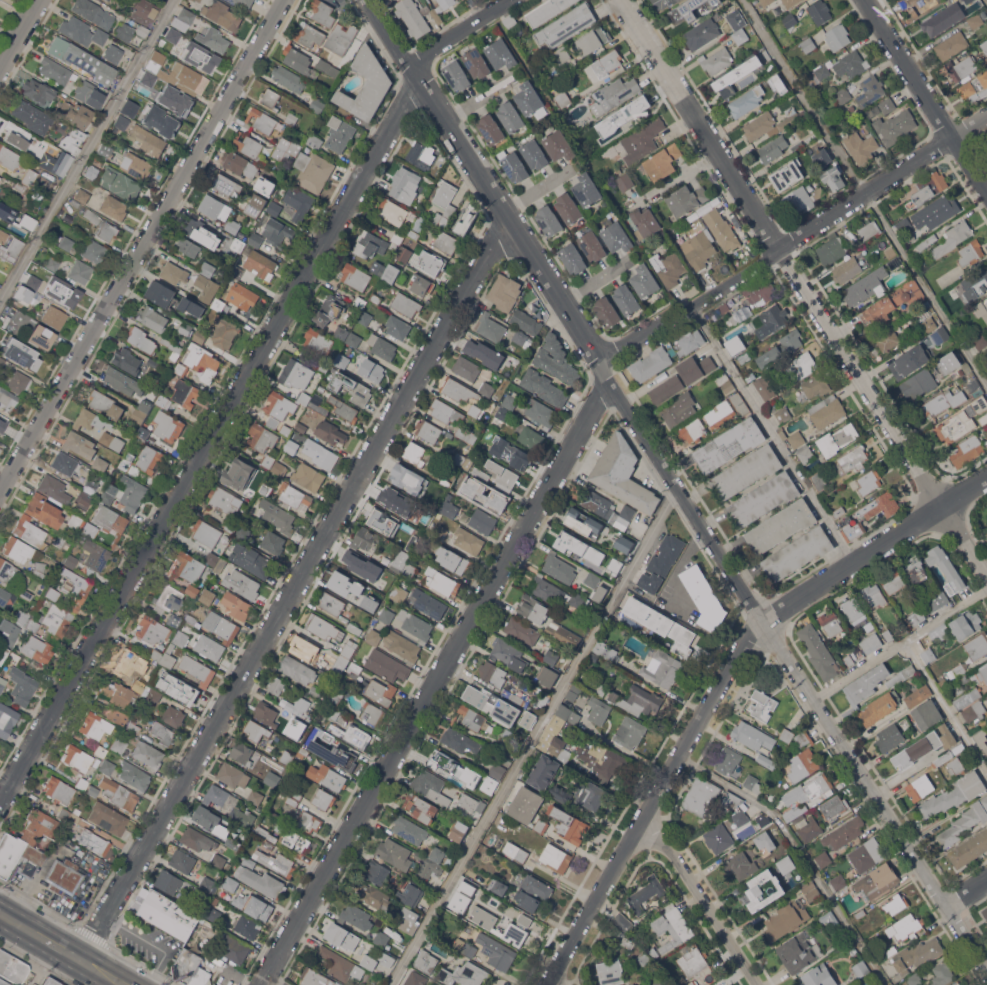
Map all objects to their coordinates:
building: (104, 0)
building: (159, 0)
building: (198, 0)
building: (962, 0)
road: (986, 0)
building: (967, 1)
building: (242, 2)
building: (766, 2)
building: (446, 3)
building: (662, 3)
building: (790, 3)
building: (919, 6)
building: (689, 9)
building: (142, 11)
building: (547, 11)
building: (819, 11)
building: (93, 12)
building: (323, 12)
building: (221, 14)
building: (185, 15)
building: (436, 15)
building: (412, 17)
building: (736, 19)
building: (943, 19)
building: (789, 20)
building: (975, 20)
building: (511, 22)
building: (566, 25)
building: (142, 30)
building: (124, 31)
building: (82, 32)
road: (19, 33)
road: (461, 33)
building: (701, 33)
building: (171, 35)
building: (309, 35)
building: (740, 35)
building: (341, 37)
building: (837, 37)
building: (214, 39)
building: (593, 40)
building: (808, 44)
building: (168, 45)
building: (951, 45)
building: (984, 45)
building: (113, 53)
building: (501, 54)
building: (561, 54)
building: (198, 58)
building: (81, 60)
building: (299, 60)
building: (716, 61)
building: (477, 62)
building: (156, 64)
building: (851, 64)
building: (603, 65)
building: (327, 67)
building: (961, 67)
building: (54, 70)
building: (457, 75)
building: (817, 75)
building: (291, 78)
building: (754, 78)
building: (147, 79)
building: (187, 79)
building: (726, 82)
building: (367, 84)
building: (778, 84)
building: (165, 85)
building: (974, 87)
building: (37, 90)
building: (136, 90)
building: (870, 90)
building: (88, 94)
building: (613, 94)
road: (926, 94)
building: (842, 95)
building: (270, 97)
road: (484, 97)
building: (562, 98)
building: (154, 99)
building: (180, 100)
building: (530, 100)
building: (746, 101)
building: (133, 103)
building: (317, 104)
building: (887, 105)
building: (636, 108)
building: (74, 114)
building: (32, 116)
building: (510, 116)
building: (140, 118)
building: (290, 118)
building: (261, 120)
building: (788, 121)
building: (166, 122)
building: (759, 125)
building: (895, 127)
building: (491, 129)
building: (339, 133)
building: (614, 133)
building: (15, 135)
building: (141, 135)
building: (71, 140)
building: (640, 140)
building: (314, 141)
building: (289, 145)
building: (558, 145)
building: (861, 146)
building: (249, 147)
building: (798, 147)
building: (772, 148)
building: (421, 150)
road: (87, 151)
building: (105, 151)
building: (279, 153)
building: (534, 153)
building: (9, 157)
building: (823, 157)
building: (55, 162)
building: (661, 162)
building: (136, 165)
building: (514, 166)
building: (618, 170)
building: (248, 171)
building: (313, 171)
building: (92, 172)
building: (787, 175)
building: (29, 177)
building: (833, 177)
building: (0, 178)
building: (625, 182)
building: (120, 183)
building: (226, 184)
building: (405, 184)
building: (19, 186)
building: (928, 188)
building: (587, 189)
road: (866, 189)
road: (540, 192)
building: (82, 196)
building: (801, 198)
building: (687, 199)
building: (298, 202)
building: (444, 202)
building: (75, 203)
building: (255, 205)
building: (114, 207)
building: (214, 207)
building: (569, 207)
building: (275, 208)
building: (936, 211)
building: (396, 212)
building: (6, 213)
building: (466, 220)
building: (549, 220)
building: (645, 222)
building: (419, 223)
building: (27, 225)
building: (102, 225)
building: (232, 226)
building: (719, 226)
building: (905, 226)
building: (869, 229)
building: (277, 232)
building: (202, 233)
building: (413, 234)
building: (3, 235)
building: (883, 235)
building: (616, 236)
road: (792, 236)
building: (397, 237)
building: (952, 238)
building: (255, 239)
building: (444, 241)
building: (238, 242)
building: (926, 242)
building: (66, 243)
road: (142, 243)
building: (370, 244)
building: (592, 245)
building: (188, 246)
building: (832, 248)
building: (11, 249)
building: (698, 249)
building: (93, 251)
building: (890, 252)
building: (403, 253)
building: (970, 253)
building: (572, 258)
building: (894, 262)
building: (433, 263)
building: (53, 264)
building: (260, 264)
building: (668, 267)
building: (377, 268)
building: (207, 269)
building: (846, 269)
building: (79, 271)
building: (174, 272)
building: (390, 274)
building: (356, 276)
road: (604, 279)
building: (30, 280)
building: (644, 281)
building: (422, 285)
building: (975, 285)
building: (207, 287)
building: (867, 287)
building: (60, 288)
road: (804, 288)
building: (759, 292)
building: (160, 293)
building: (505, 293)
building: (26, 295)
building: (243, 296)
building: (375, 298)
building: (626, 299)
building: (360, 301)
building: (218, 304)
building: (406, 304)
building: (892, 304)
building: (192, 305)
building: (981, 309)
building: (607, 311)
building: (322, 314)
building: (739, 315)
building: (54, 317)
building: (364, 317)
building: (152, 318)
building: (21, 319)
building: (771, 320)
building: (526, 321)
building: (928, 321)
building: (398, 326)
building: (186, 328)
building: (491, 328)
building: (224, 332)
building: (341, 332)
building: (940, 335)
building: (199, 336)
building: (39, 338)
building: (521, 338)
building: (140, 339)
building: (353, 339)
building: (887, 339)
building: (692, 340)
building: (980, 340)
building: (318, 341)
building: (382, 346)
building: (737, 346)
building: (782, 347)
building: (172, 348)
building: (481, 348)
building: (5, 350)
building: (31, 358)
building: (744, 358)
building: (126, 360)
building: (341, 360)
building: (557, 360)
building: (202, 361)
building: (2, 362)
building: (152, 362)
building: (910, 362)
building: (950, 362)
building: (650, 364)
building: (322, 366)
building: (801, 366)
building: (967, 367)
building: (467, 368)
building: (501, 368)
building: (695, 368)
building: (181, 369)
building: (372, 370)
building: (296, 374)
building: (121, 380)
building: (18, 382)
building: (919, 383)
building: (816, 385)
building: (728, 386)
building: (765, 386)
building: (351, 387)
building: (544, 387)
building: (487, 388)
building: (457, 389)
building: (666, 389)
building: (975, 391)
building: (186, 393)
building: (303, 397)
building: (7, 398)
building: (161, 400)
building: (510, 401)
building: (943, 401)
building: (106, 404)
building: (740, 404)
building: (980, 404)
building: (279, 405)
building: (318, 405)
building: (146, 406)
building: (344, 408)
building: (679, 409)
building: (474, 410)
building: (444, 411)
building: (826, 411)
building: (540, 412)
building: (502, 413)
building: (719, 413)
building: (784, 414)
building: (138, 415)
building: (91, 420)
building: (1, 424)
building: (168, 426)
building: (301, 426)
building: (955, 426)
building: (285, 430)
building: (428, 430)
building: (692, 431)
building: (143, 432)
building: (330, 432)
road: (772, 432)
building: (986, 432)
building: (491, 434)
building: (465, 435)
building: (986, 436)
building: (261, 437)
building: (531, 437)
building: (841, 437)
building: (796, 439)
building: (112, 440)
building: (76, 442)
road: (211, 442)
building: (729, 444)
building: (292, 446)
building: (967, 450)
building: (319, 452)
building: (416, 453)
building: (804, 453)
building: (515, 456)
building: (853, 458)
building: (460, 459)
building: (267, 460)
building: (143, 461)
building: (64, 463)
building: (101, 464)
building: (468, 464)
building: (279, 468)
building: (746, 471)
building: (240, 472)
building: (403, 474)
building: (481, 474)
building: (623, 474)
building: (308, 476)
building: (503, 476)
building: (818, 481)
building: (867, 481)
building: (445, 482)
road: (673, 485)
building: (92, 487)
building: (460, 487)
building: (54, 488)
building: (265, 489)
building: (125, 492)
building: (394, 496)
building: (437, 496)
building: (449, 496)
building: (293, 497)
building: (84, 498)
building: (492, 499)
building: (764, 499)
building: (225, 500)
building: (598, 502)
building: (880, 505)
building: (449, 509)
building: (44, 511)
building: (838, 512)
building: (278, 517)
building: (625, 517)
building: (414, 518)
building: (383, 519)
building: (111, 521)
building: (482, 521)
building: (585, 522)
building: (82, 525)
building: (781, 526)
building: (231, 527)
building: (851, 528)
building: (439, 531)
building: (30, 532)
building: (206, 532)
building: (243, 532)
building: (366, 539)
building: (59, 540)
building: (468, 541)
building: (274, 542)
building: (407, 543)
building: (623, 544)
building: (573, 546)
building: (612, 546)
building: (17, 549)
building: (425, 552)
building: (798, 553)
building: (94, 555)
building: (212, 558)
building: (252, 560)
building: (355, 560)
building: (71, 561)
building: (400, 561)
building: (457, 561)
building: (661, 563)
building: (220, 564)
building: (189, 567)
building: (558, 567)
building: (40, 569)
building: (605, 569)
building: (409, 570)
building: (916, 570)
building: (943, 570)
building: (9, 571)
building: (592, 579)
building: (441, 581)
building: (892, 581)
building: (345, 582)
building: (379, 582)
building: (242, 583)
building: (75, 587)
road: (295, 588)
building: (192, 590)
building: (399, 593)
building: (555, 593)
building: (599, 593)
building: (26, 594)
building: (52, 594)
building: (874, 595)
building: (3, 596)
building: (207, 597)
building: (705, 598)
building: (936, 598)
building: (165, 599)
building: (331, 603)
building: (370, 603)
building: (429, 604)
building: (240, 608)
building: (534, 608)
building: (852, 608)
building: (623, 611)
building: (386, 615)
building: (916, 616)
building: (28, 618)
building: (191, 619)
building: (174, 620)
building: (55, 623)
building: (831, 623)
building: (965, 624)
building: (415, 625)
building: (221, 626)
building: (322, 626)
building: (354, 628)
building: (151, 629)
building: (521, 630)
building: (938, 632)
building: (563, 633)
building: (674, 633)
building: (10, 634)
building: (888, 635)
building: (374, 636)
building: (184, 640)
building: (871, 642)
building: (402, 646)
building: (977, 646)
building: (348, 648)
building: (306, 649)
road: (900, 649)
building: (208, 650)
building: (604, 650)
building: (36, 651)
building: (817, 651)
building: (508, 654)
building: (164, 655)
building: (928, 655)
building: (551, 656)
building: (592, 656)
building: (13, 657)
building: (849, 660)
building: (0, 661)
building: (132, 661)
building: (386, 665)
building: (339, 666)
building: (356, 667)
building: (663, 668)
building: (197, 669)
building: (297, 669)
building: (492, 672)
building: (971, 673)
building: (548, 676)
building: (901, 676)
road: (435, 683)
building: (1, 685)
building: (137, 685)
building: (277, 685)
building: (865, 685)
building: (21, 686)
road: (721, 687)
building: (182, 690)
building: (379, 690)
building: (602, 690)
building: (574, 691)
building: (320, 693)
building: (151, 694)
building: (337, 694)
building: (118, 695)
building: (918, 696)
building: (986, 696)
building: (967, 697)
building: (515, 698)
building: (543, 699)
building: (638, 700)
building: (490, 704)
building: (763, 704)
building: (880, 707)
road: (947, 707)
building: (294, 708)
building: (598, 709)
building: (372, 713)
building: (974, 713)
building: (568, 714)
building: (927, 714)
building: (173, 715)
building: (6, 716)
building: (116, 716)
building: (339, 716)
building: (278, 718)
building: (472, 718)
building: (528, 719)
building: (95, 725)
building: (132, 727)
building: (256, 731)
building: (629, 732)
building: (163, 733)
building: (509, 733)
building: (352, 734)
building: (325, 735)
building: (752, 735)
building: (786, 735)
road: (533, 737)
building: (889, 737)
building: (803, 738)
building: (980, 739)
building: (459, 740)
building: (554, 741)
building: (119, 745)
building: (925, 746)
building: (100, 750)
building: (242, 752)
building: (303, 752)
building: (335, 754)
building: (148, 755)
building: (288, 757)
building: (942, 758)
building: (77, 759)
building: (599, 759)
building: (728, 760)
building: (766, 761)
building: (447, 762)
building: (802, 764)
building: (955, 766)
building: (107, 767)
building: (498, 768)
building: (544, 771)
road: (904, 772)
building: (233, 774)
building: (135, 776)
building: (328, 776)
building: (272, 779)
building: (481, 780)
building: (753, 783)
building: (83, 784)
building: (464, 785)
building: (430, 787)
building: (920, 787)
building: (59, 789)
building: (809, 789)
building: (92, 790)
building: (561, 793)
building: (119, 794)
building: (296, 794)
building: (954, 794)
building: (590, 795)
building: (256, 797)
building: (323, 798)
building: (704, 799)
building: (730, 799)
building: (292, 801)
building: (471, 802)
building: (229, 804)
building: (525, 804)
building: (833, 806)
building: (421, 808)
building: (78, 811)
building: (64, 814)
building: (795, 814)
building: (75, 818)
building: (108, 818)
building: (737, 819)
building: (211, 820)
building: (761, 820)
building: (308, 821)
building: (964, 822)
building: (541, 824)
building: (569, 824)
building: (40, 826)
building: (409, 829)
building: (810, 829)
building: (459, 830)
building: (844, 832)
building: (266, 833)
building: (719, 837)
building: (198, 839)
building: (93, 841)
building: (295, 841)
building: (765, 842)
building: (233, 843)
building: (268, 844)
building: (969, 850)
building: (515, 851)
building: (393, 852)
building: (10, 853)
building: (436, 854)
road: (800, 854)
building: (867, 854)
building: (94, 857)
building: (555, 858)
building: (822, 858)
building: (29, 860)
building: (218, 860)
building: (183, 861)
building: (248, 861)
building: (277, 862)
building: (428, 865)
building: (741, 865)
building: (784, 865)
building: (376, 871)
building: (63, 876)
building: (262, 881)
building: (878, 881)
building: (839, 882)
building: (207, 883)
building: (806, 883)
building: (231, 884)
building: (498, 886)
building: (182, 887)
road: (966, 891)
building: (533, 892)
building: (646, 893)
building: (370, 894)
building: (411, 894)
building: (813, 894)
building: (758, 895)
road: (705, 902)
building: (458, 903)
building: (896, 903)
building: (254, 905)
building: (985, 911)
building: (169, 914)
building: (860, 914)
building: (215, 915)
building: (355, 916)
building: (829, 918)
building: (409, 920)
building: (484, 920)
building: (622, 920)
building: (785, 920)
building: (204, 923)
road: (22, 925)
building: (518, 925)
building: (248, 926)
building: (906, 926)
building: (673, 927)
building: (342, 936)
building: (843, 936)
building: (381, 938)
road: (154, 942)
building: (459, 943)
building: (628, 943)
building: (234, 948)
road: (61, 949)
building: (469, 949)
building: (497, 951)
building: (890, 951)
building: (797, 953)
building: (652, 954)
building: (917, 954)
building: (387, 958)
building: (692, 959)
building: (190, 961)
building: (368, 961)
building: (425, 961)
building: (644, 962)
building: (340, 964)
road: (43, 965)
building: (12, 968)
building: (861, 968)
building: (611, 971)
road: (101, 972)
building: (943, 973)
building: (465, 974)
building: (819, 976)
building: (201, 977)
building: (316, 978)
building: (415, 979)
building: (914, 979)
road: (272, 980)
building: (47, 981)
building: (4, 982)
road: (113, 982)
road: (552, 983)
building: (692, 983)
building: (34, 984)
building: (958, 984)

